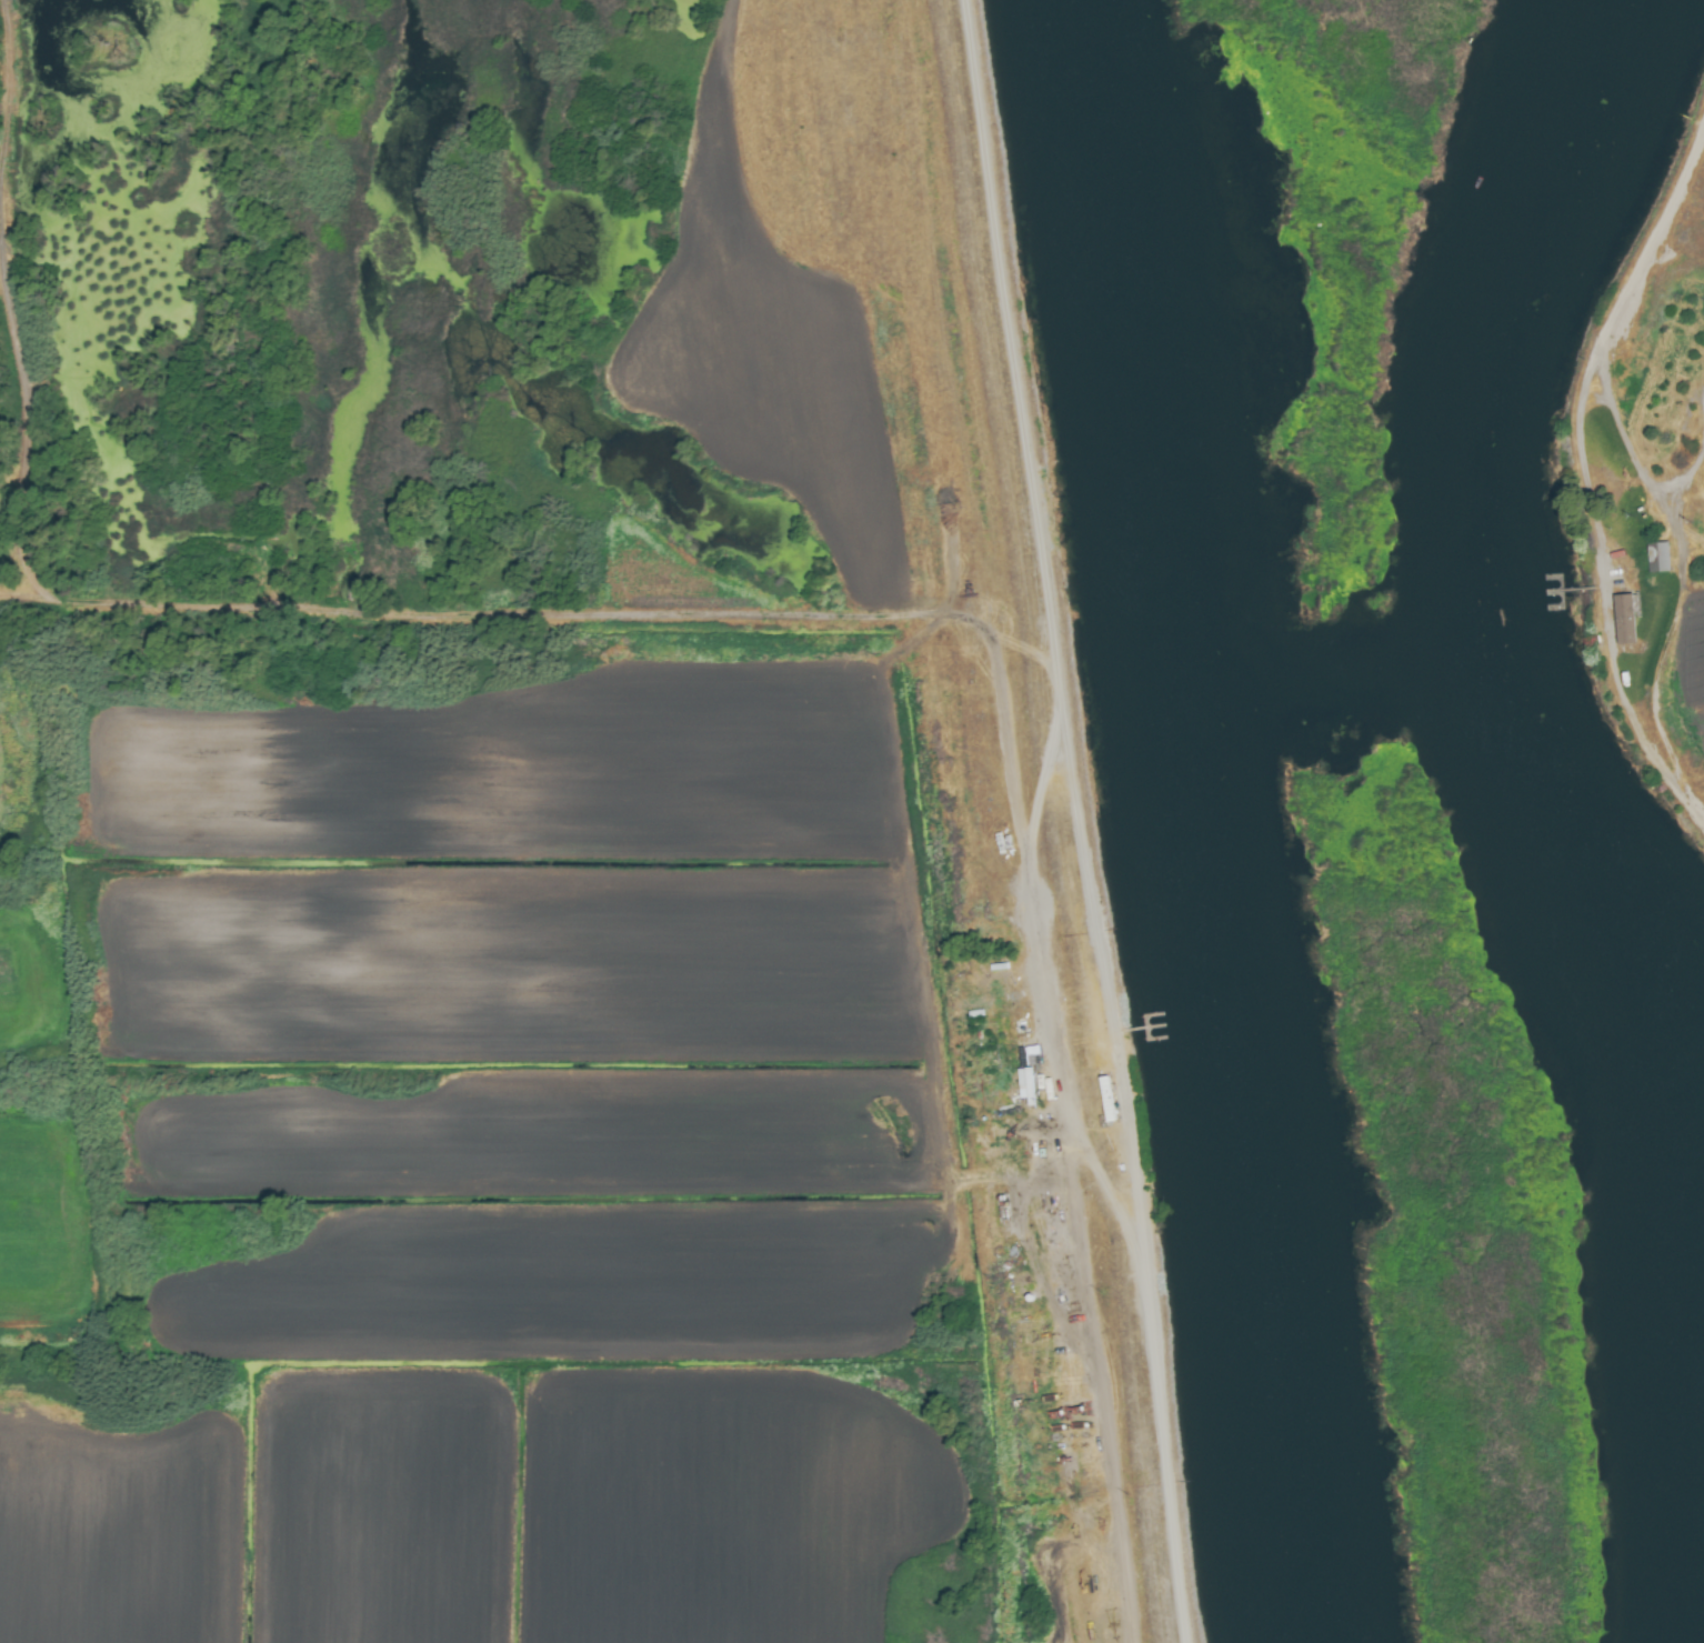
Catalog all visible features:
crop: (1677, 540)
building: (1655, 559)
building: (1621, 620)
road: (1055, 821)
crop: (549, 850)
road: (1020, 971)
road: (1085, 1392)

